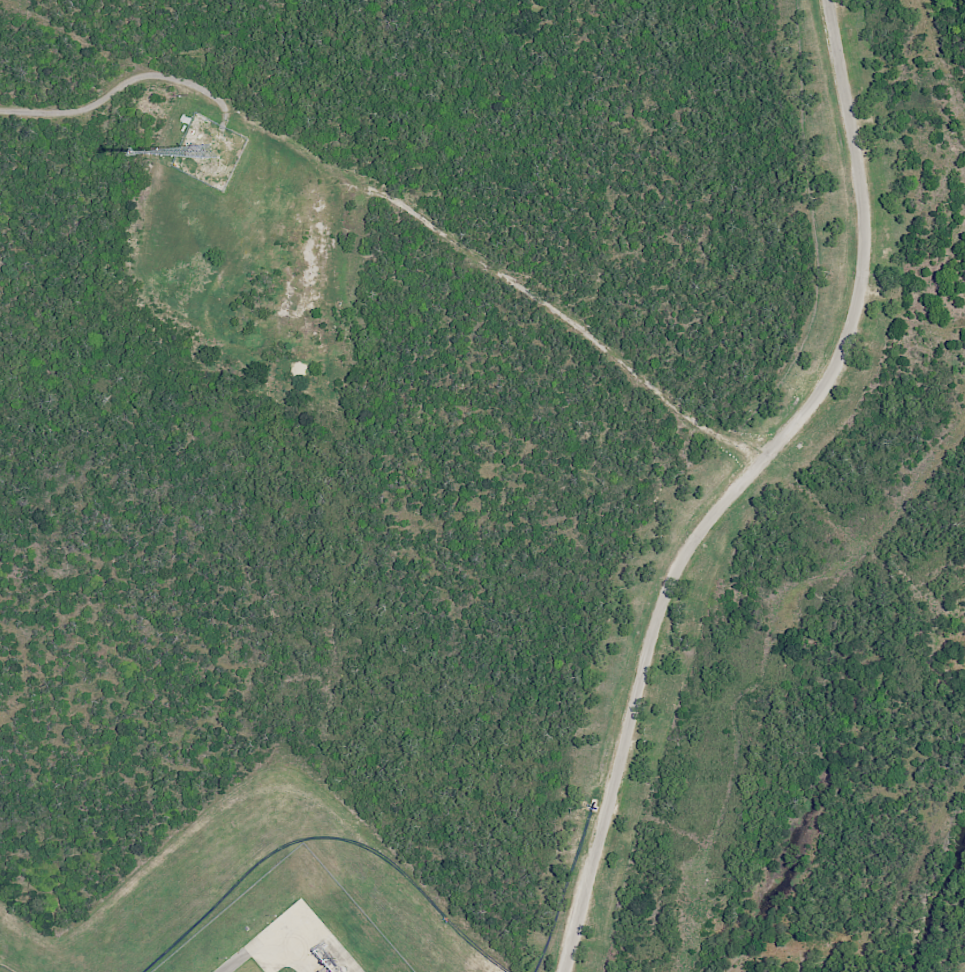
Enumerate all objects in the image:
road: (114, 89)
road: (740, 484)
wastewater plant: (266, 897)
road: (265, 941)

